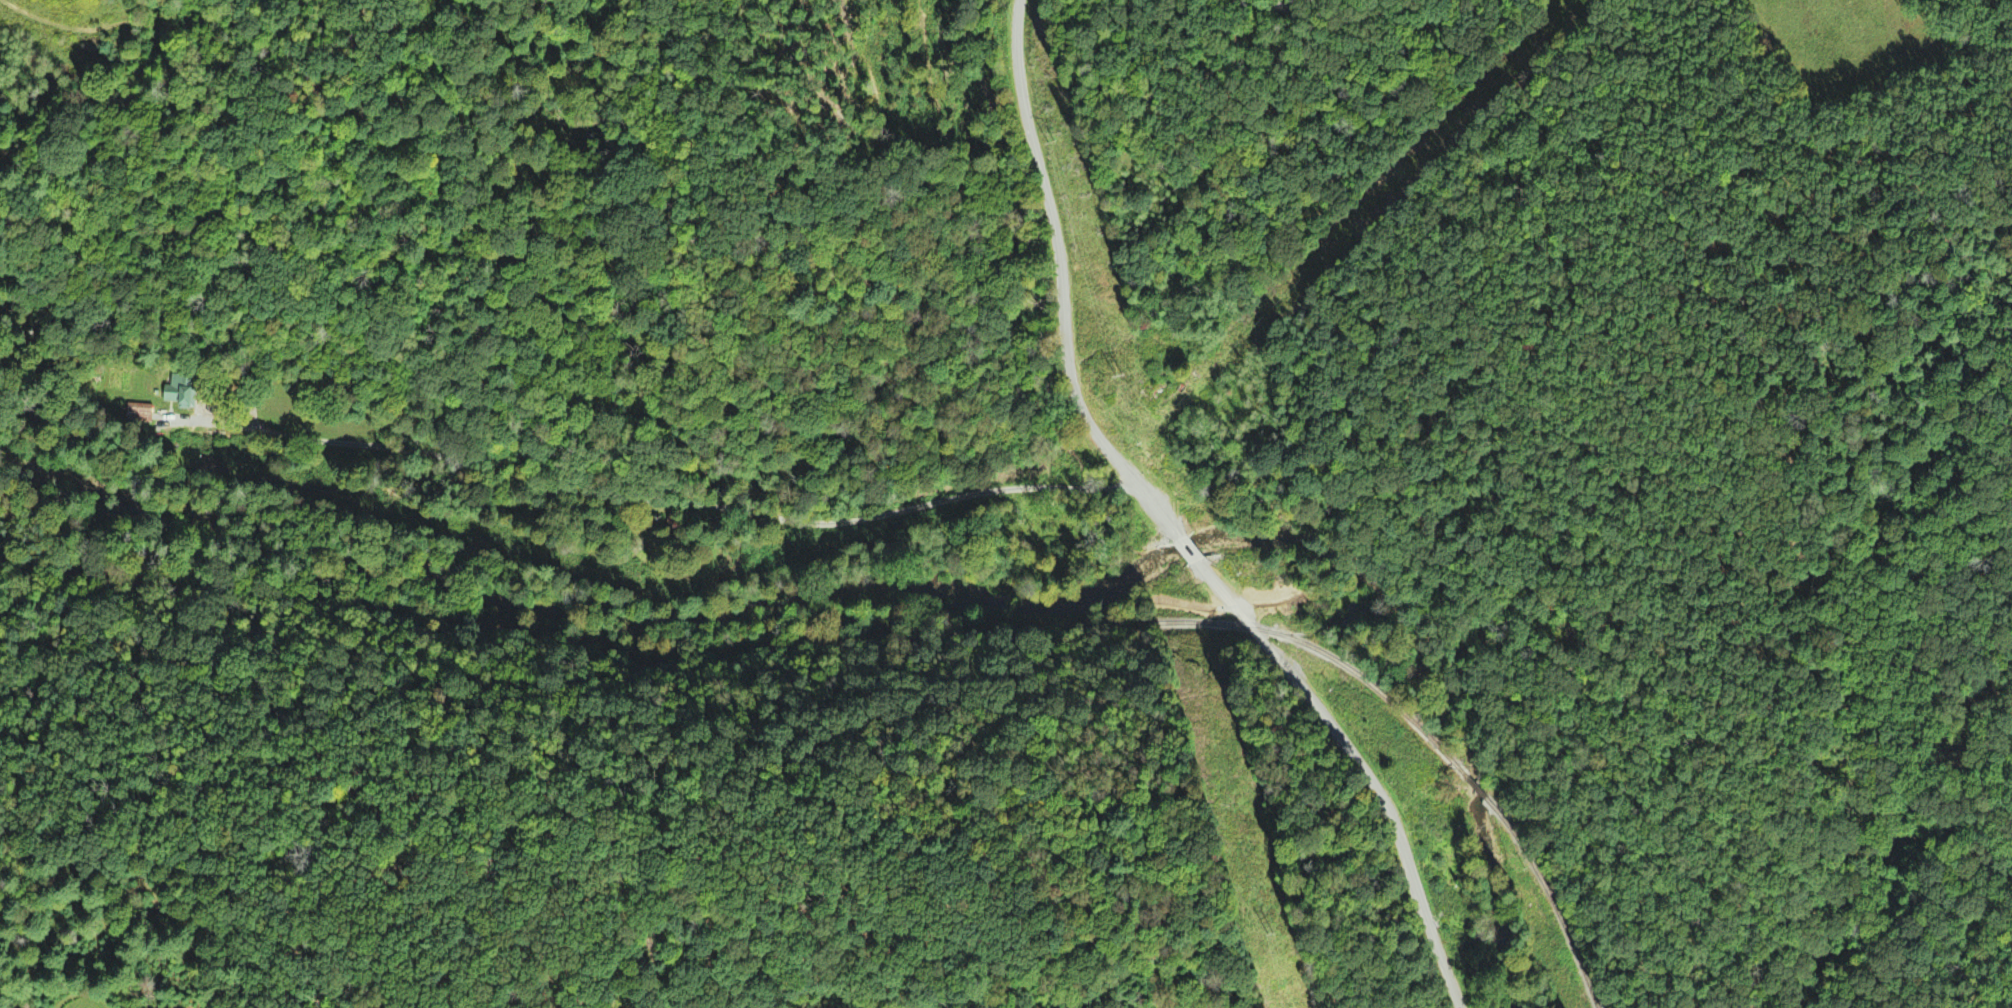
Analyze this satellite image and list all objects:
road: (1059, 284)
building: (179, 396)
building: (138, 414)
road: (304, 433)
road: (1187, 549)
railway: (752, 655)
road: (1355, 767)
railway: (1470, 789)
building: (1449, 858)
railway: (1546, 898)

